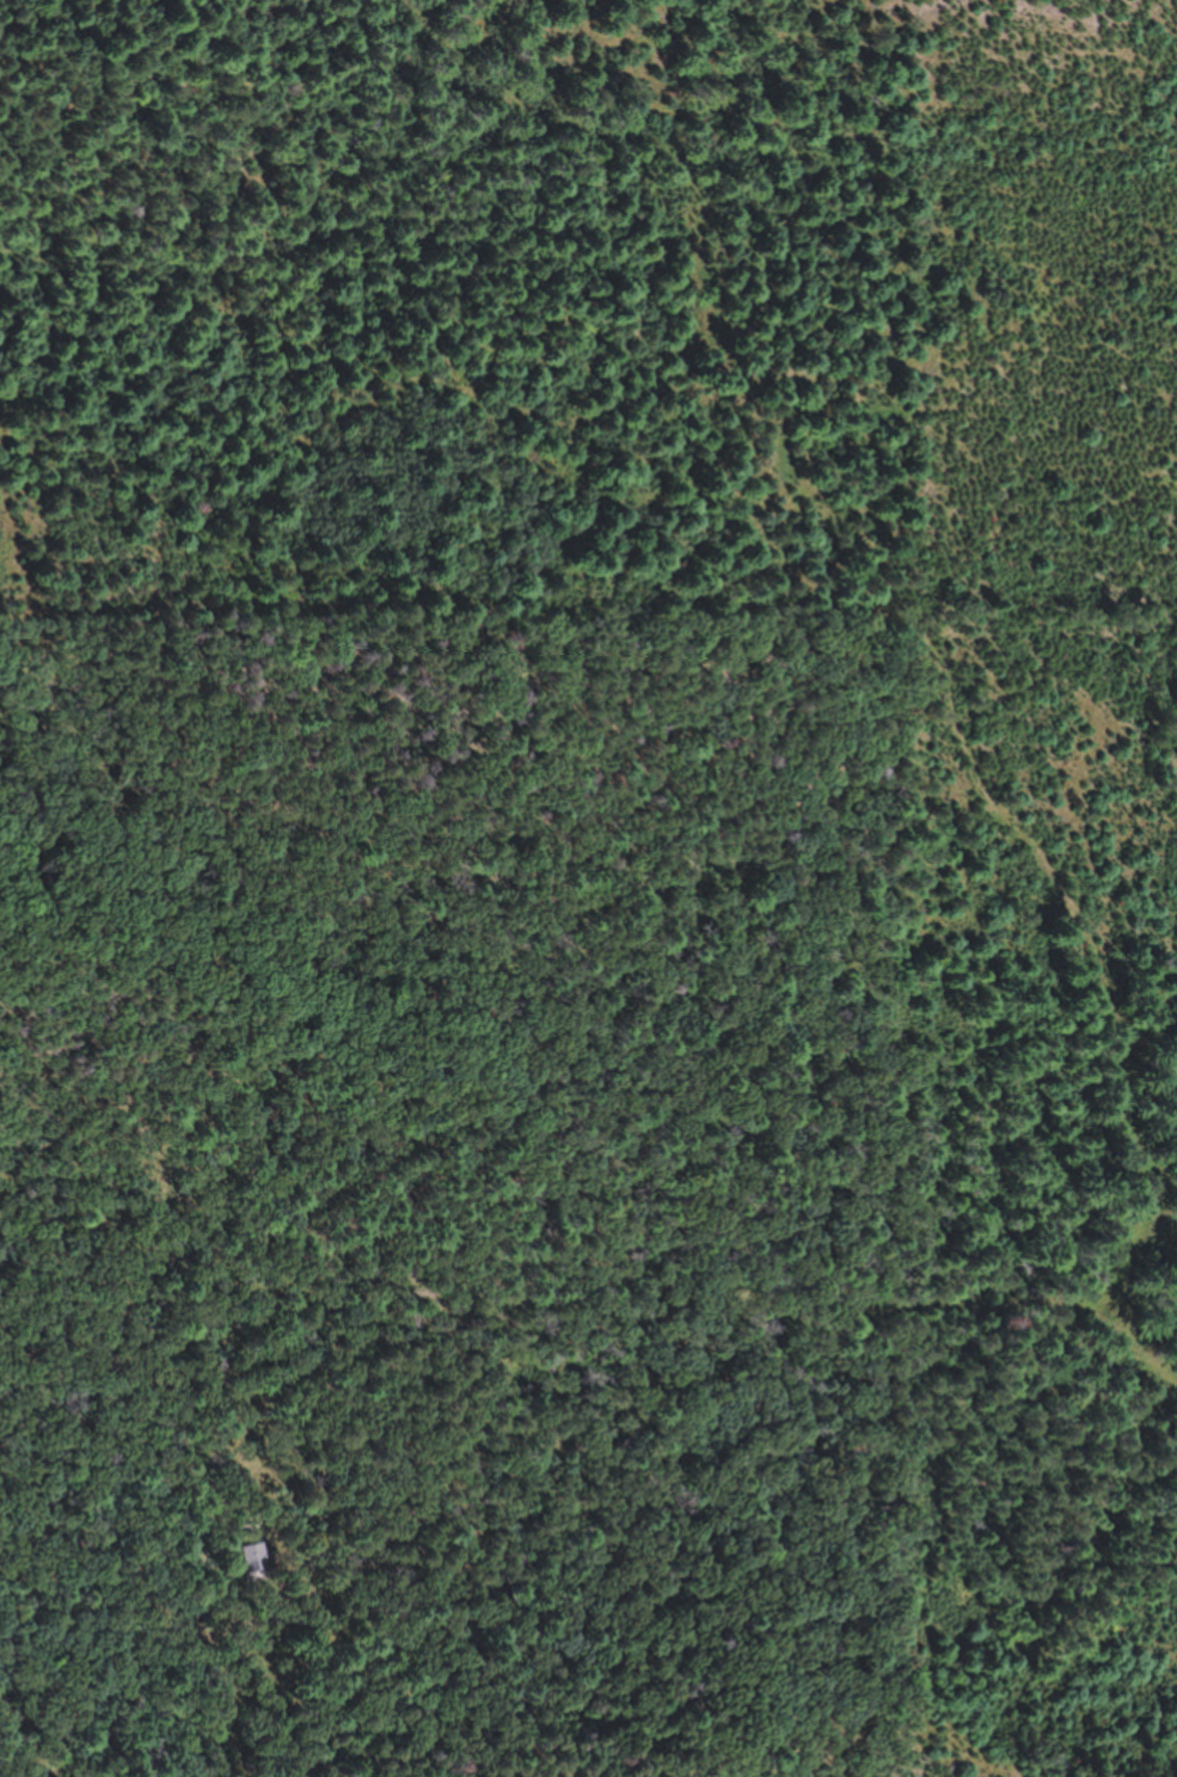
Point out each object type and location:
building: (252, 1563)

